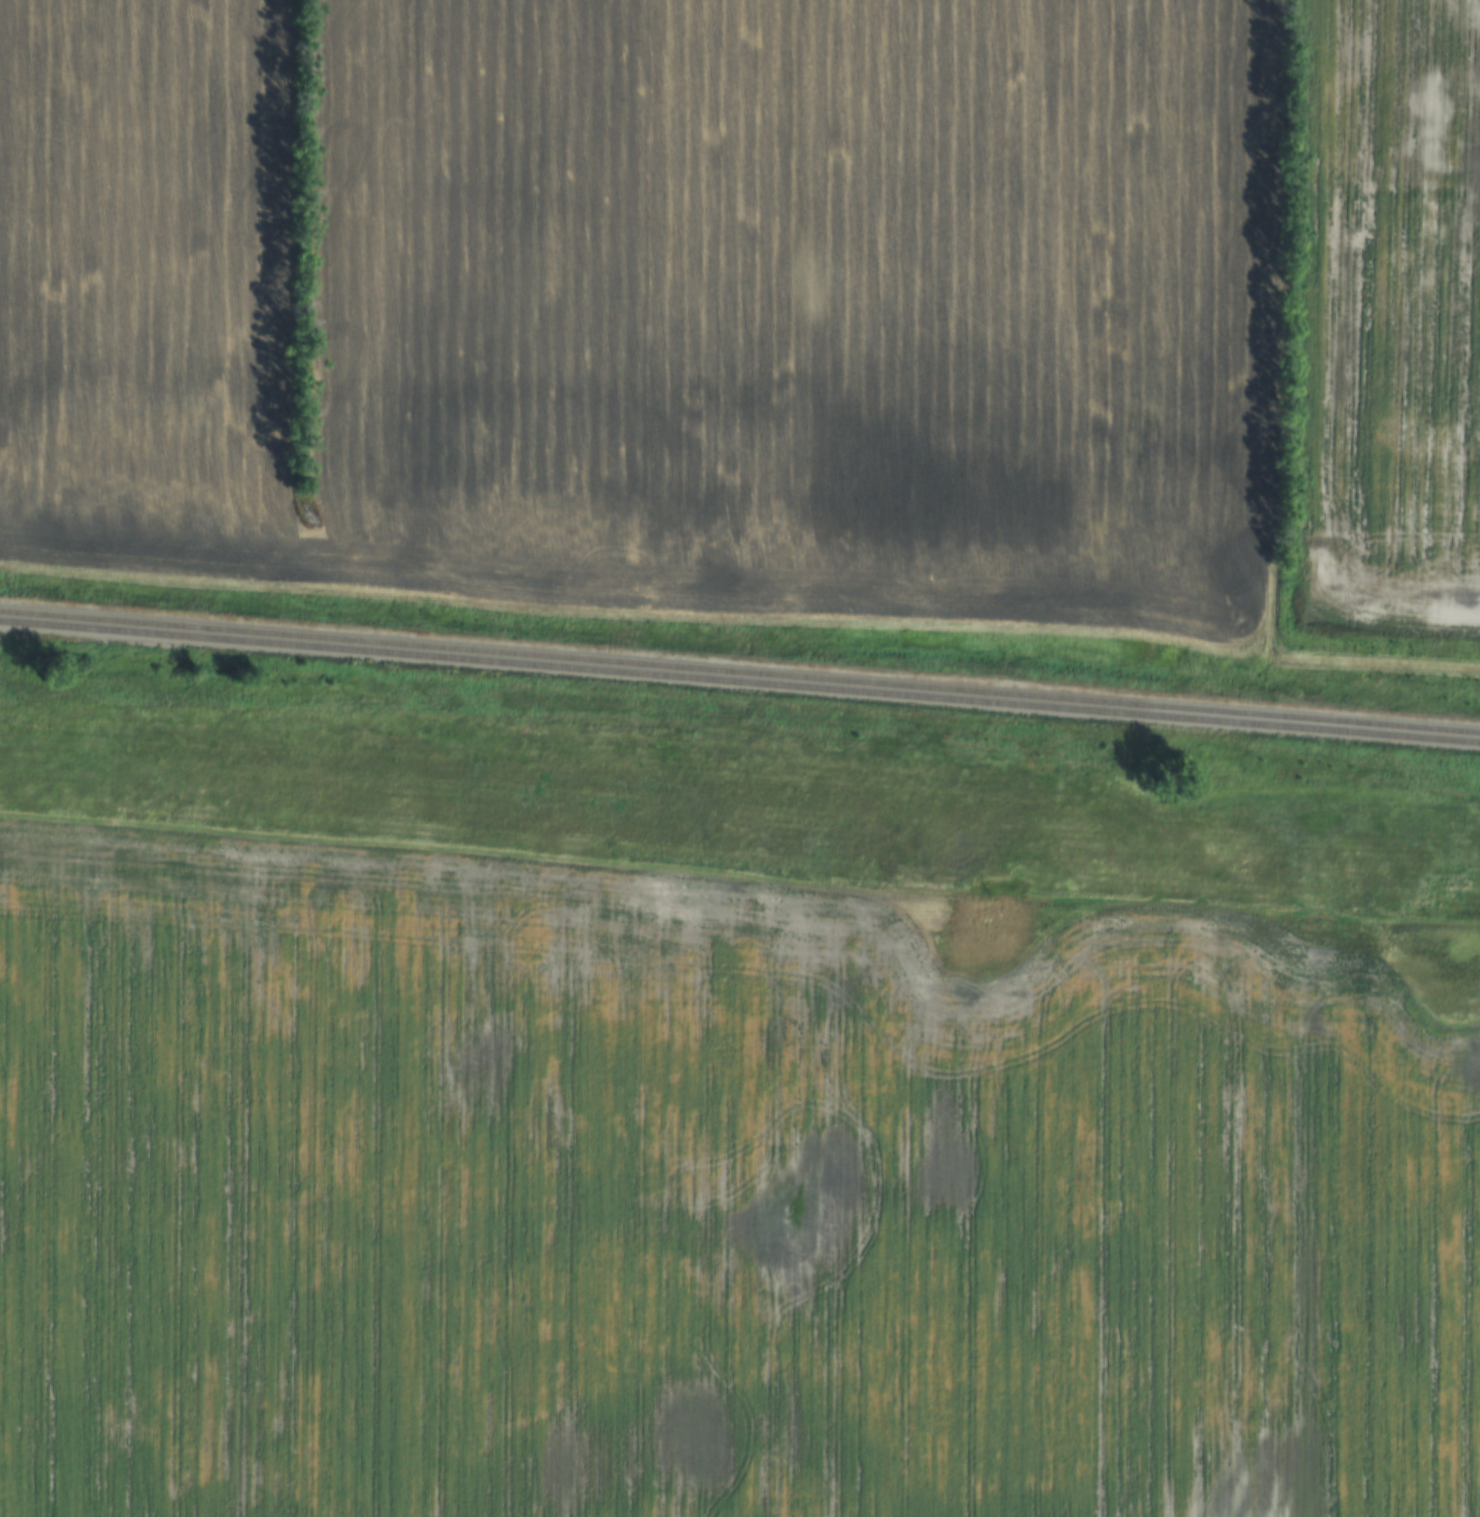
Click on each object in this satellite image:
railway: (740, 665)
railway: (740, 679)

